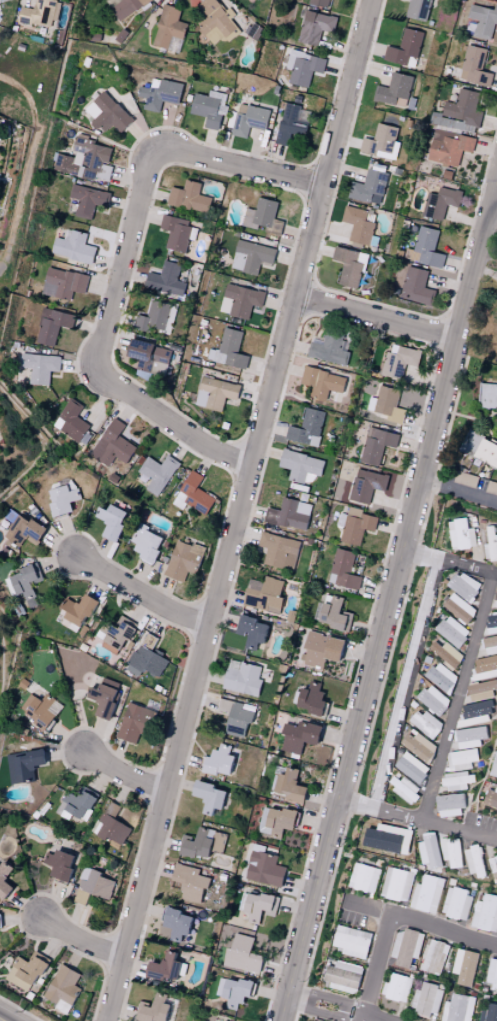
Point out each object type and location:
road: (28, 1)
building: (318, 2)
building: (417, 9)
building: (38, 13)
building: (215, 21)
building: (481, 21)
building: (168, 26)
building: (314, 26)
building: (404, 49)
building: (303, 67)
building: (474, 67)
building: (394, 90)
building: (159, 93)
building: (209, 108)
building: (107, 113)
building: (248, 120)
building: (291, 123)
building: (454, 128)
building: (380, 142)
building: (83, 159)
building: (369, 185)
road: (22, 196)
building: (189, 197)
building: (88, 200)
building: (440, 202)
road: (494, 203)
building: (262, 216)
building: (357, 225)
building: (177, 232)
building: (73, 247)
building: (425, 248)
building: (251, 256)
building: (348, 265)
road: (124, 266)
building: (167, 279)
building: (62, 283)
building: (417, 287)
building: (240, 300)
road: (360, 313)
road: (378, 316)
building: (52, 325)
building: (329, 348)
building: (228, 349)
building: (151, 357)
building: (399, 360)
building: (39, 367)
building: (321, 382)
building: (215, 393)
building: (487, 396)
building: (387, 404)
building: (71, 421)
building: (307, 427)
building: (112, 445)
building: (376, 445)
building: (486, 453)
building: (300, 466)
building: (157, 473)
building: (465, 478)
building: (366, 485)
building: (491, 487)
road: (459, 490)
building: (193, 494)
building: (62, 498)
road: (242, 511)
building: (289, 514)
building: (111, 521)
building: (355, 525)
building: (23, 530)
building: (460, 534)
building: (146, 543)
building: (490, 544)
building: (279, 550)
building: (183, 559)
road: (449, 564)
building: (343, 570)
building: (23, 583)
building: (463, 586)
road: (140, 594)
building: (264, 594)
building: (495, 596)
road: (390, 602)
building: (459, 608)
building: (78, 609)
building: (334, 615)
road: (399, 616)
building: (491, 622)
building: (252, 631)
building: (452, 631)
building: (118, 633)
building: (490, 644)
building: (322, 649)
building: (447, 653)
building: (146, 657)
building: (484, 667)
building: (441, 677)
building: (242, 678)
building: (482, 689)
building: (104, 697)
building: (312, 699)
building: (433, 699)
road: (459, 699)
building: (41, 710)
building: (474, 713)
building: (236, 716)
building: (135, 722)
building: (424, 723)
building: (300, 736)
building: (469, 736)
building: (417, 745)
building: (460, 759)
building: (220, 760)
building: (23, 765)
building: (494, 765)
building: (411, 767)
road: (123, 773)
building: (457, 780)
building: (290, 786)
building: (208, 796)
building: (490, 797)
building: (76, 805)
building: (449, 805)
building: (276, 821)
road: (417, 821)
building: (112, 825)
building: (387, 838)
building: (204, 843)
building: (429, 850)
building: (450, 851)
building: (473, 861)
building: (59, 864)
building: (493, 864)
building: (264, 868)
building: (4, 874)
building: (363, 877)
building: (190, 882)
building: (395, 884)
building: (94, 887)
building: (426, 894)
building: (456, 903)
building: (258, 906)
building: (485, 913)
building: (0, 923)
building: (177, 923)
road: (421, 924)
road: (79, 939)
building: (351, 941)
building: (405, 948)
building: (242, 954)
building: (434, 957)
road: (374, 967)
building: (464, 967)
building: (166, 968)
road: (364, 969)
building: (25, 972)
building: (492, 975)
building: (343, 976)
building: (63, 986)
building: (396, 987)
building: (234, 991)
building: (426, 1000)
road: (23, 1008)
road: (333, 1008)
building: (457, 1008)
building: (154, 1009)
building: (488, 1013)
building: (223, 1020)

